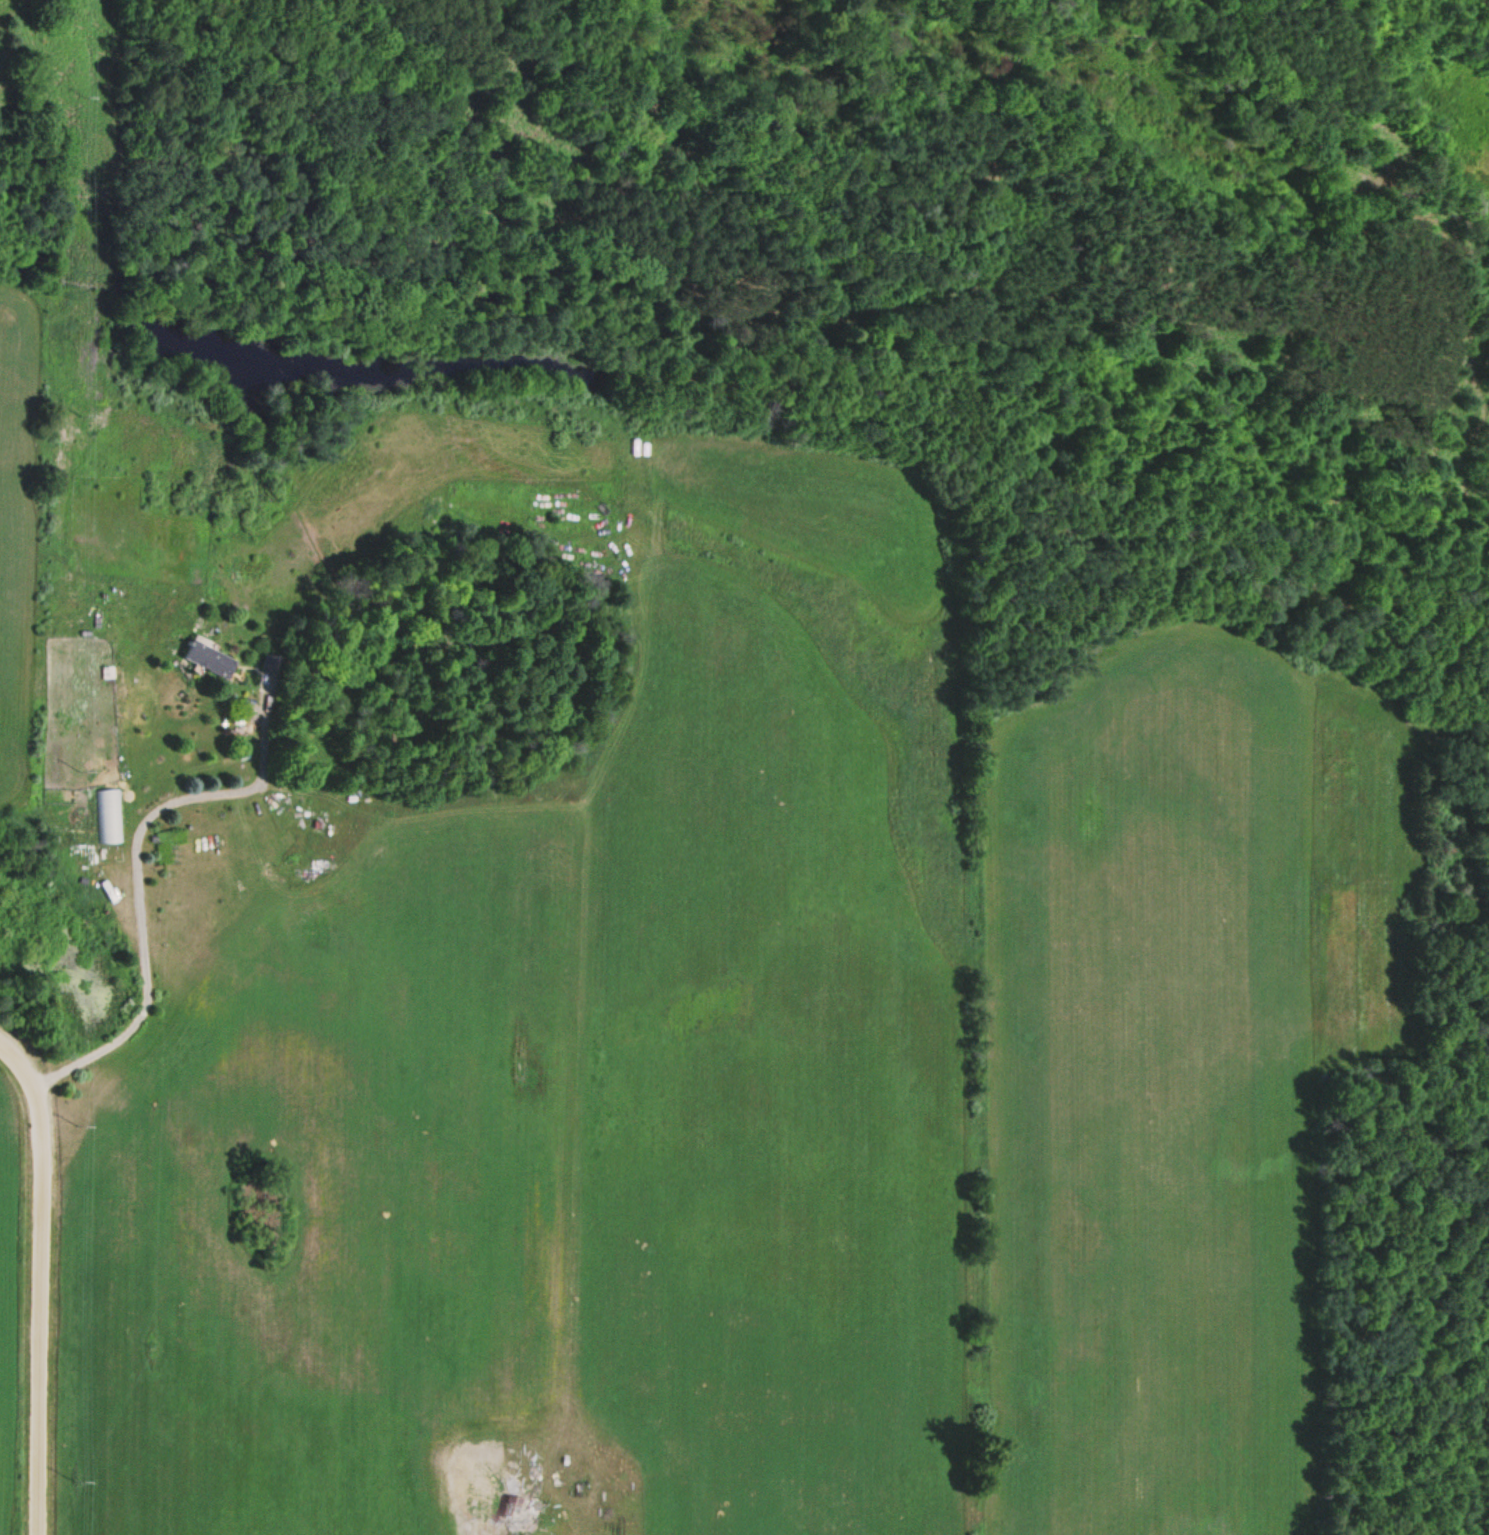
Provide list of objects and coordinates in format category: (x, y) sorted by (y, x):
building: (431, 510)
building: (209, 658)
road: (7, 1047)
road: (40, 1291)
building: (520, 1516)

